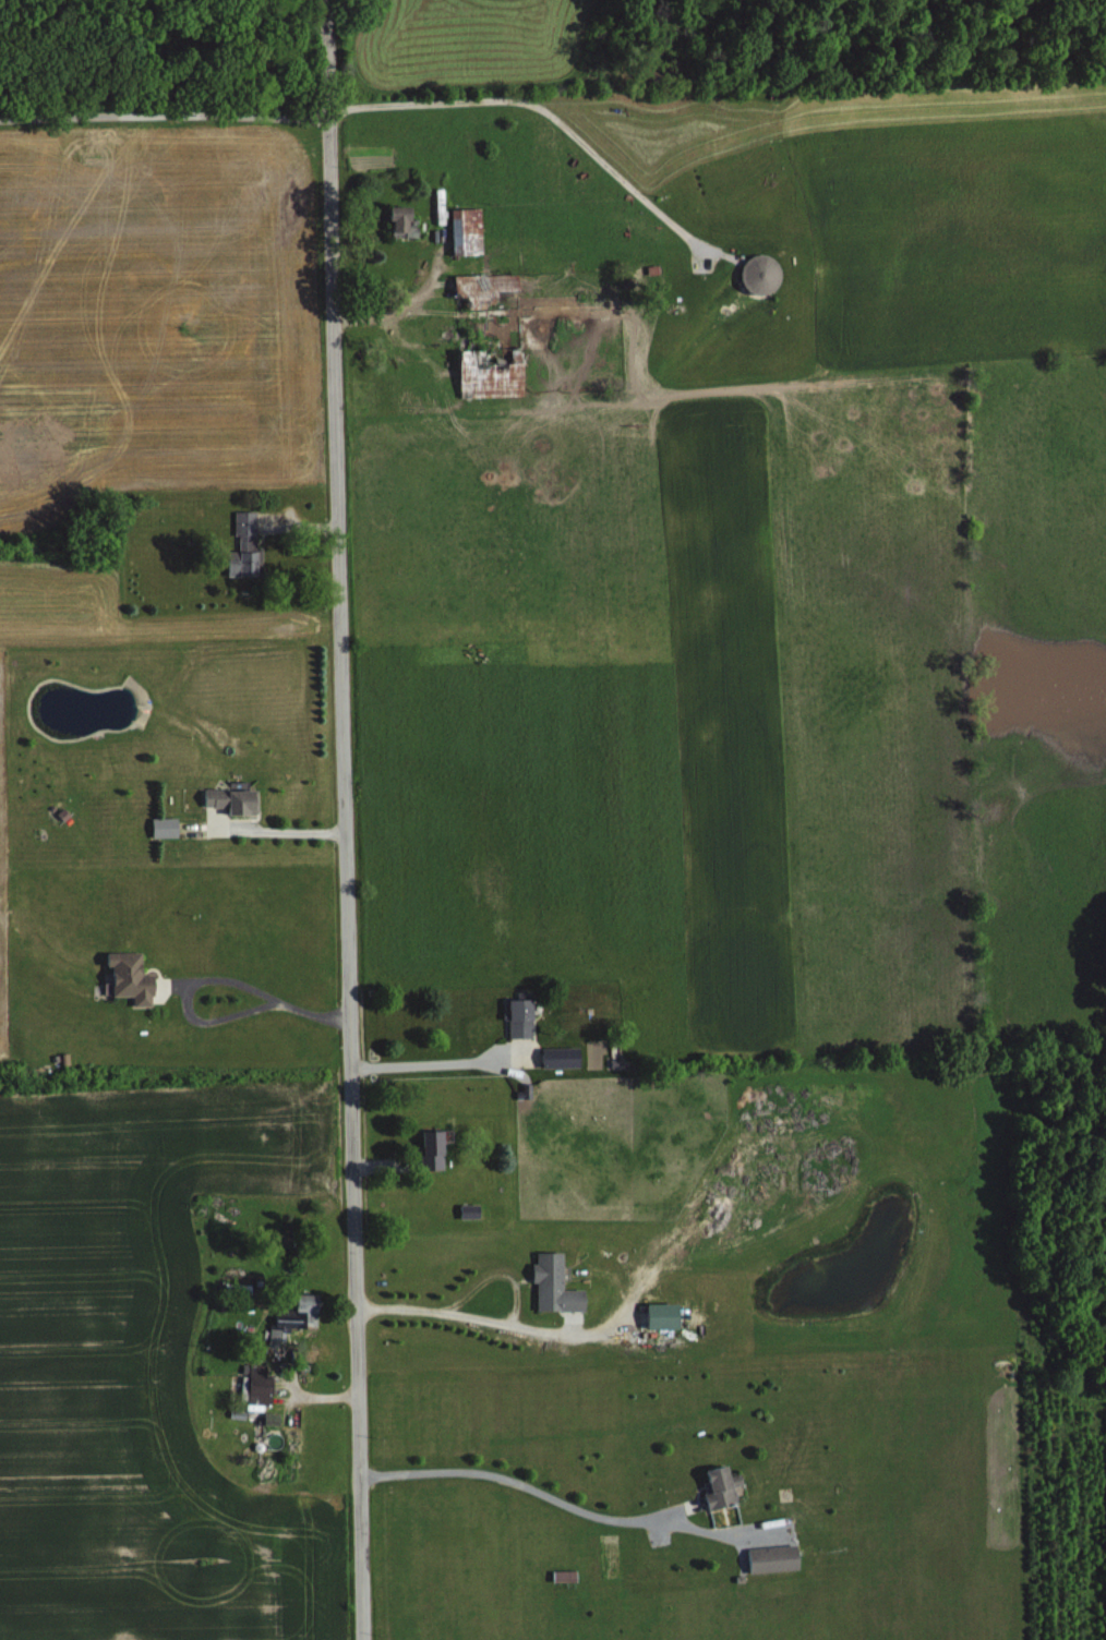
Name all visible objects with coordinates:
road: (538, 102)
road: (163, 117)
building: (465, 229)
building: (757, 273)
building: (483, 286)
building: (490, 375)
building: (243, 544)
building: (231, 799)
road: (344, 819)
building: (163, 825)
road: (282, 830)
building: (129, 975)
road: (212, 978)
building: (519, 1015)
building: (560, 1054)
road: (434, 1061)
building: (430, 1147)
building: (552, 1282)
building: (661, 1313)
road: (465, 1314)
building: (292, 1315)
building: (257, 1383)
building: (269, 1415)
road: (517, 1482)
building: (719, 1484)
building: (772, 1556)

